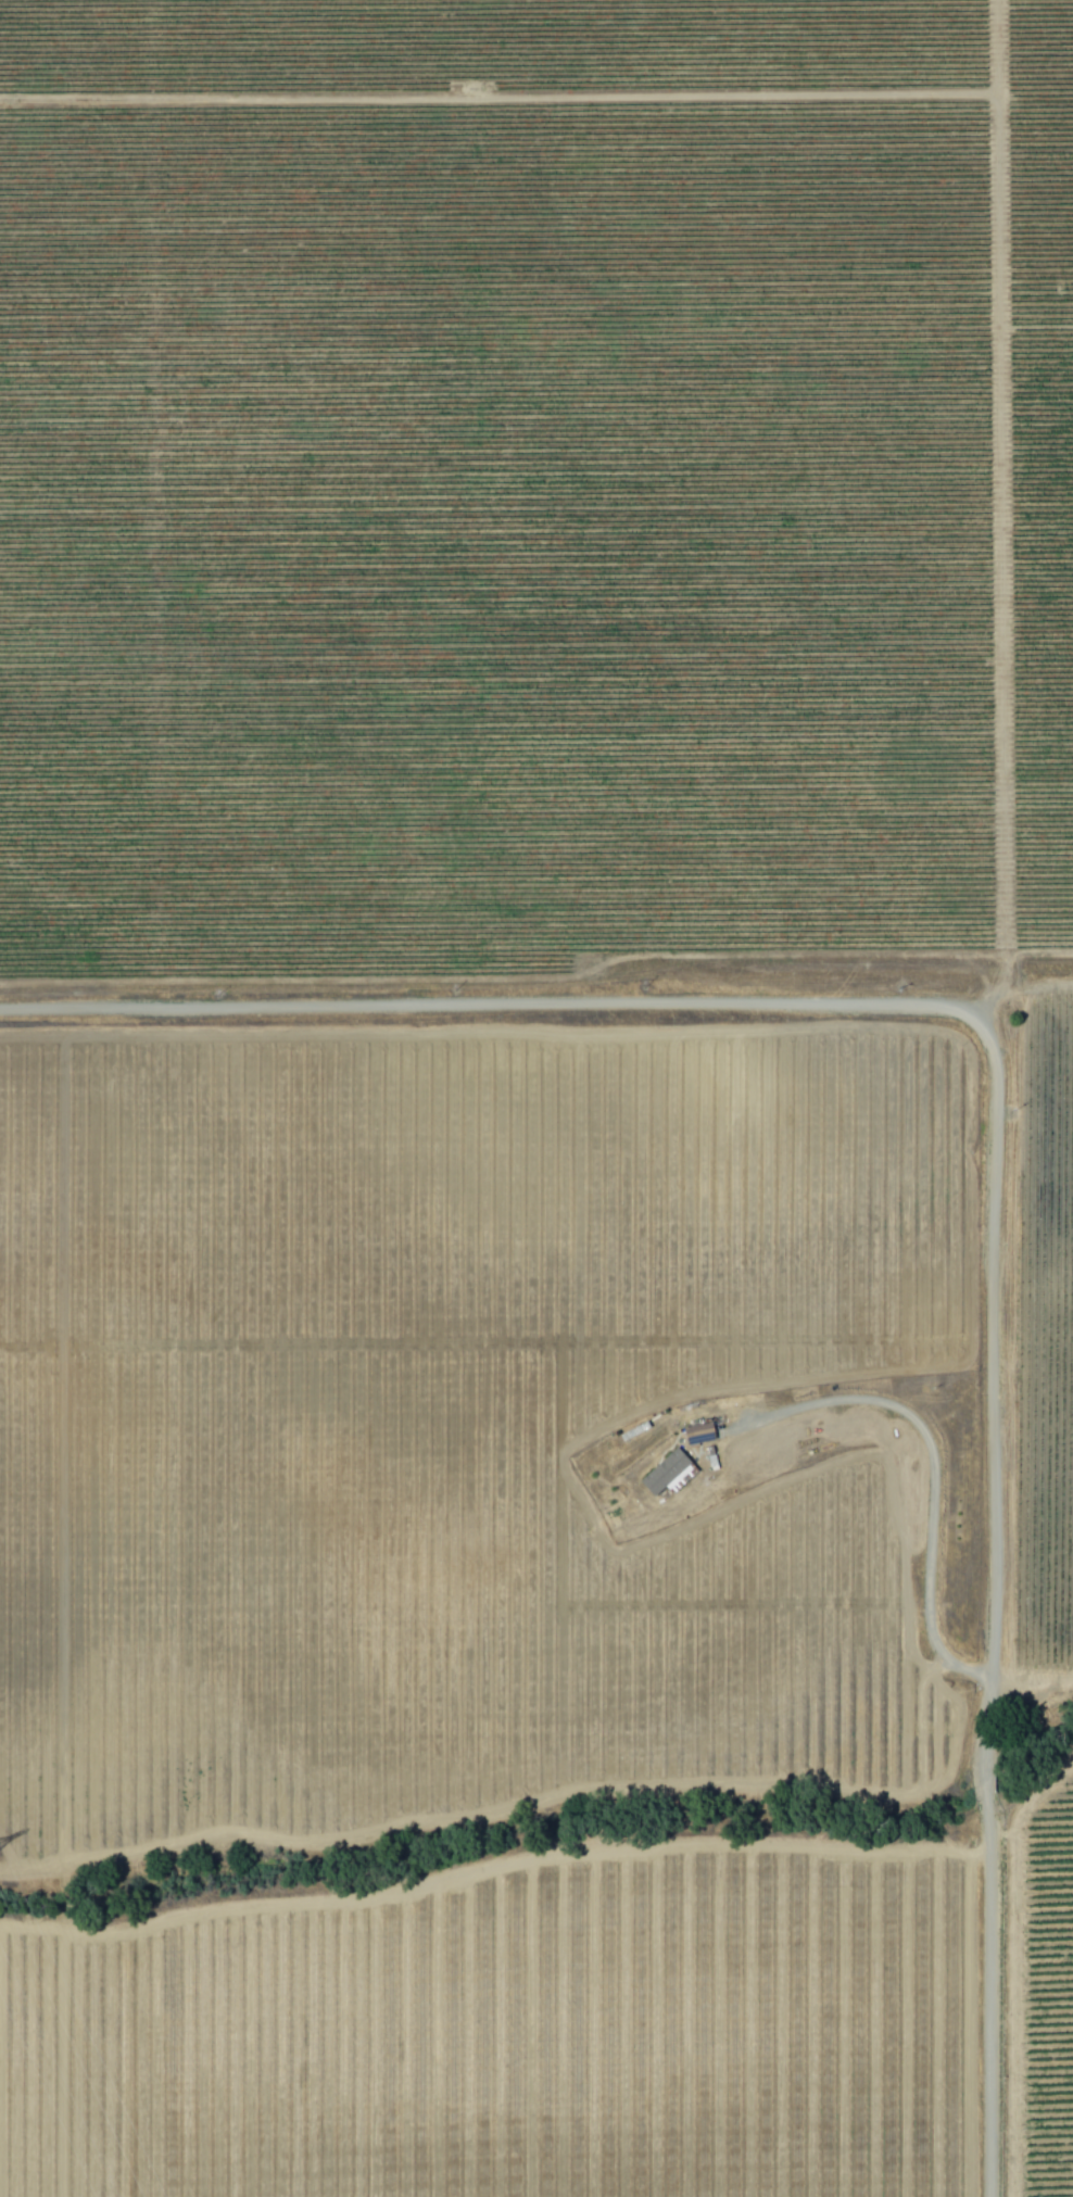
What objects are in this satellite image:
road: (471, 1010)
road: (994, 1369)
building: (696, 1432)
road: (931, 1462)
building: (661, 1470)
road: (1032, 1701)
road: (984, 1783)
road: (992, 2003)

